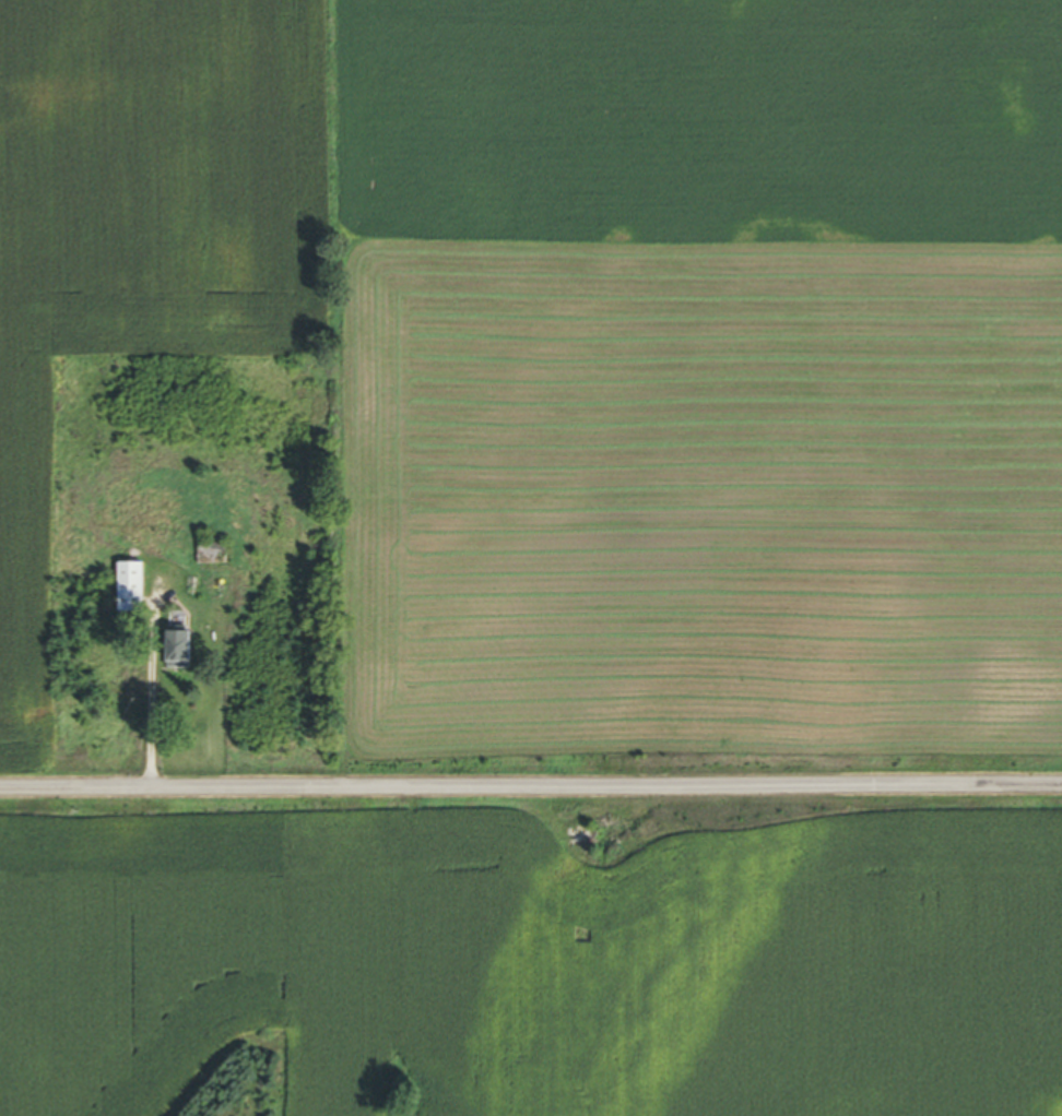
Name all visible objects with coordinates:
building: (220, 558)
building: (138, 591)
building: (188, 653)
road: (149, 689)
road: (531, 787)

